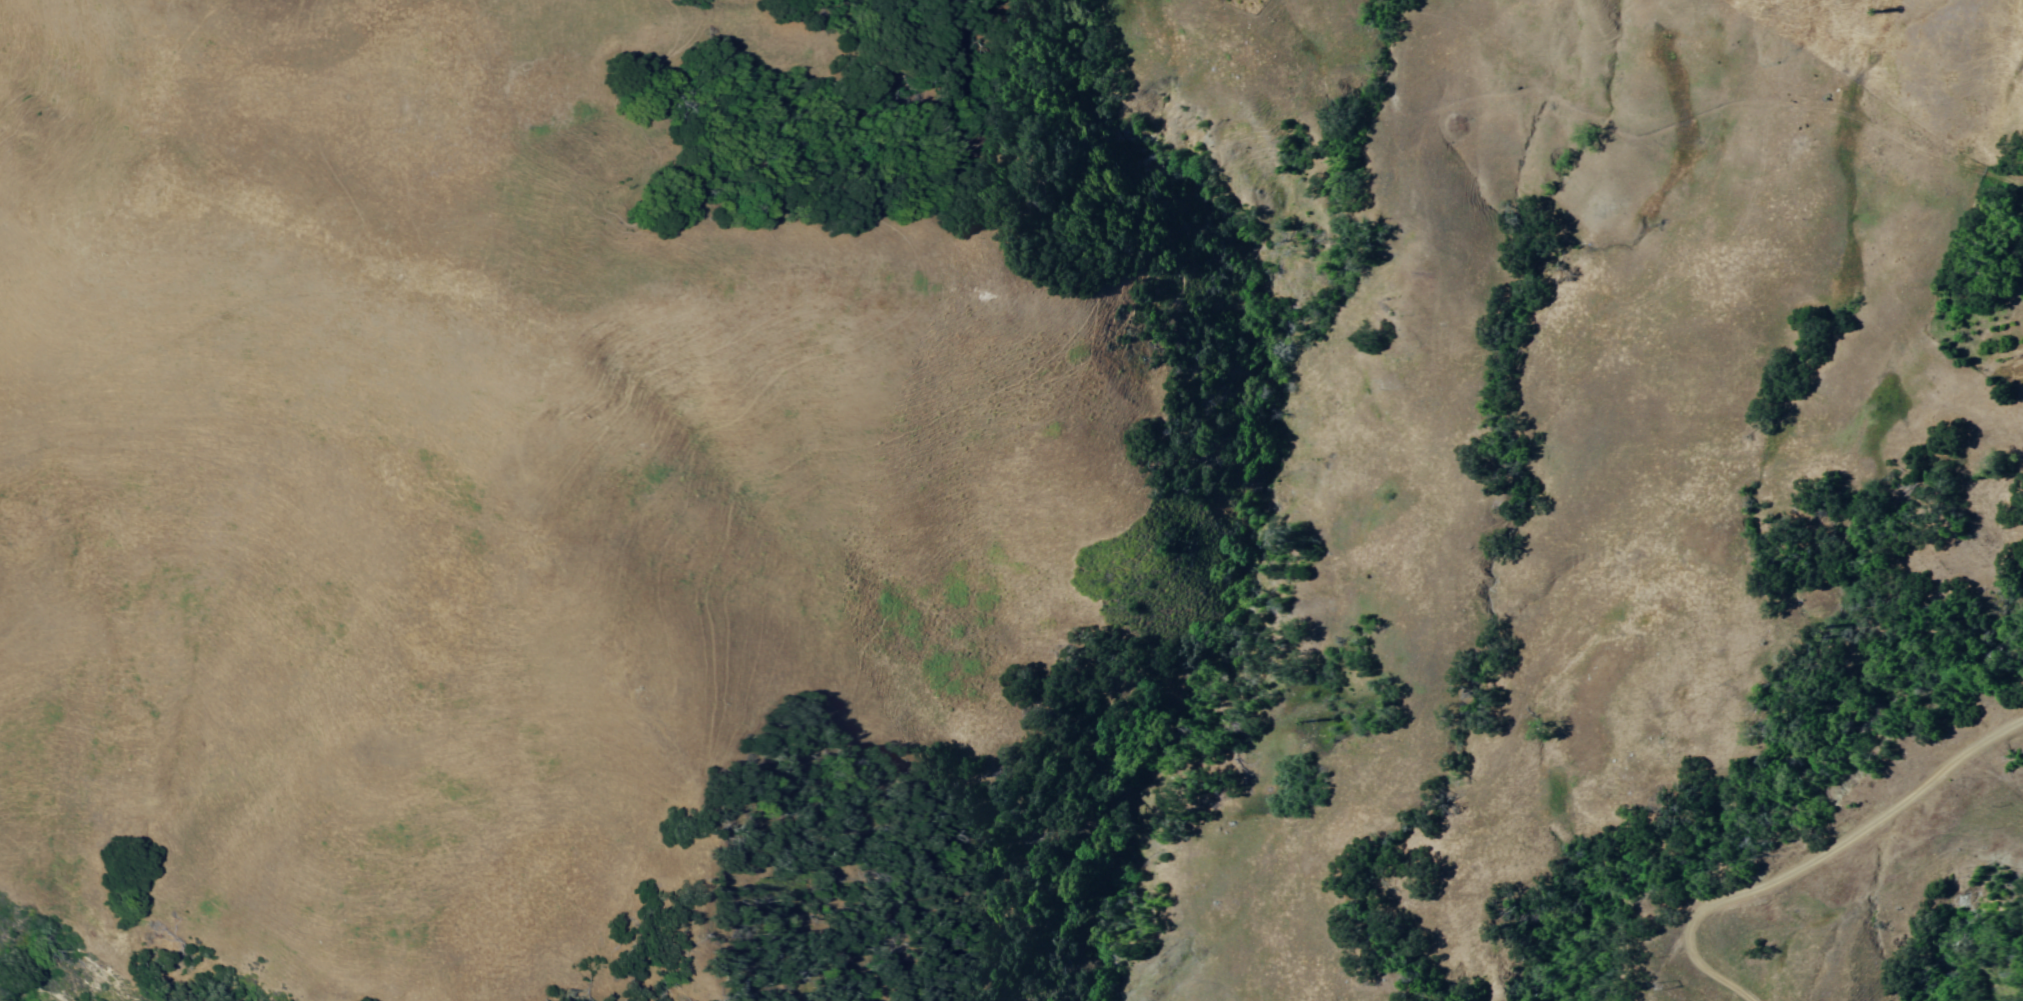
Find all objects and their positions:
road: (1807, 851)

